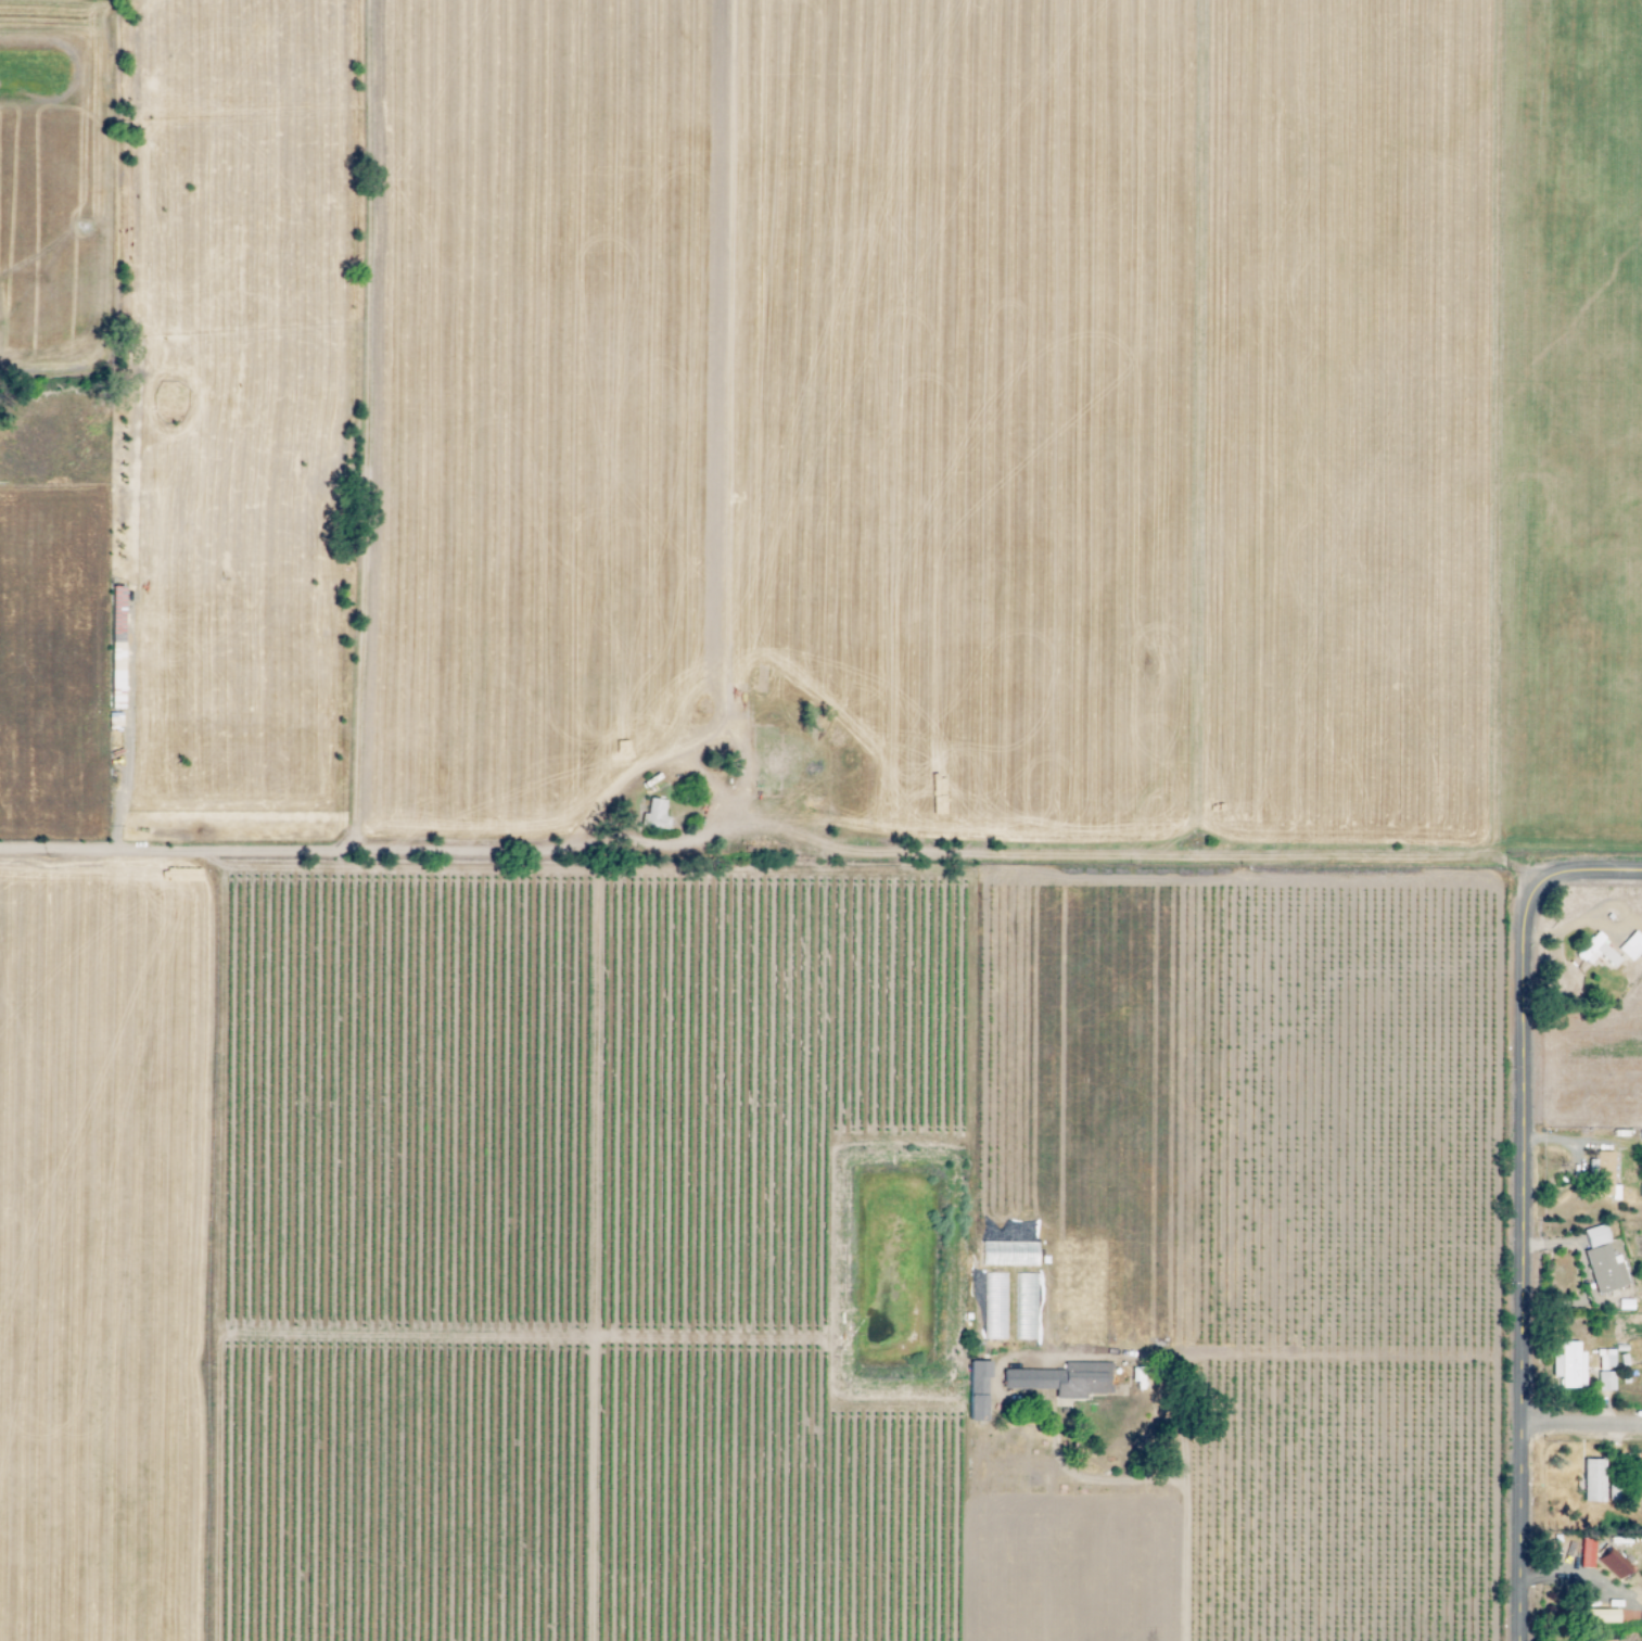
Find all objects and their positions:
building: (655, 814)
road: (768, 870)
building: (1631, 946)
building: (1596, 952)
road: (1526, 1210)
road: (218, 1247)
road: (595, 1254)
building: (1603, 1261)
building: (1569, 1366)
building: (1060, 1381)
building: (978, 1391)
road: (1582, 1426)
building: (1593, 1481)
road: (1188, 1549)
building: (1614, 1564)
building: (1602, 1617)

